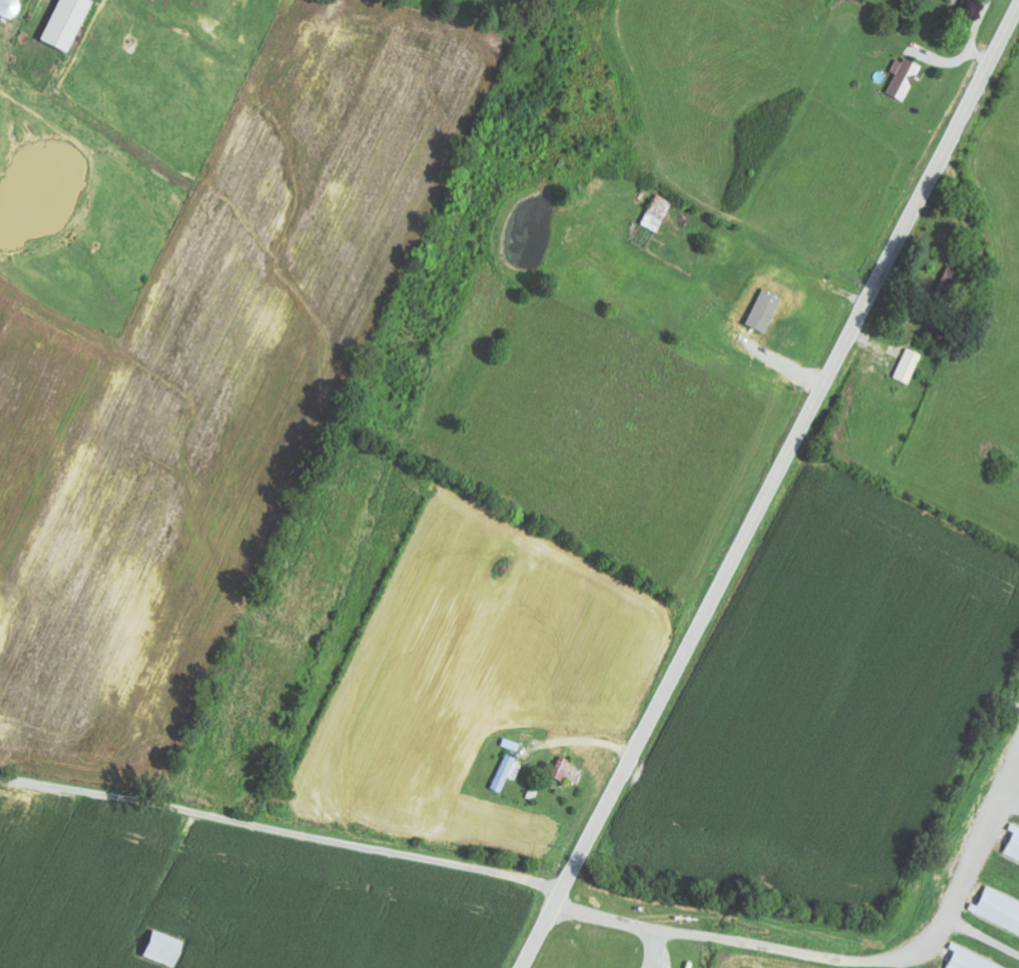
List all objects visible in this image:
building: (958, 0)
building: (10, 8)
building: (66, 23)
building: (904, 78)
building: (658, 213)
building: (765, 311)
building: (909, 366)
road: (771, 489)
building: (565, 771)
building: (504, 774)
road: (282, 831)
building: (1013, 850)
building: (163, 950)
building: (967, 961)

